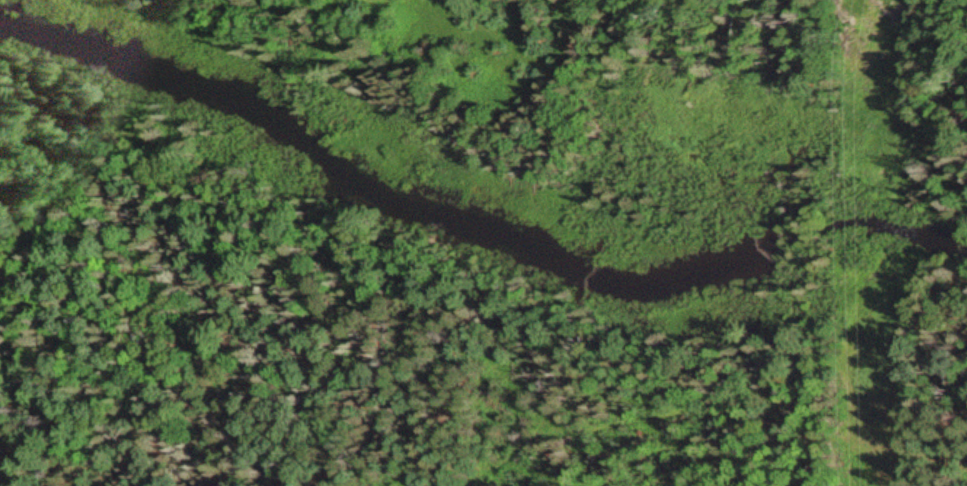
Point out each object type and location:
road: (612, 105)

